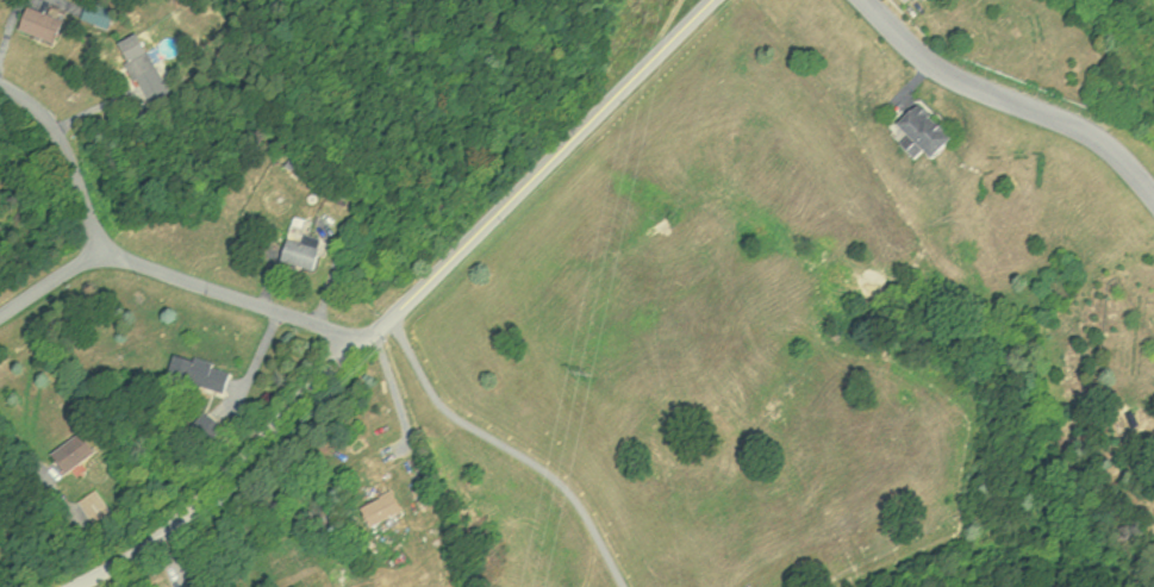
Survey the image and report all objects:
road: (1008, 99)
road: (64, 156)
road: (50, 279)
road: (235, 293)
road: (398, 306)
power tower: (582, 377)
road: (513, 444)
road: (20, 447)

